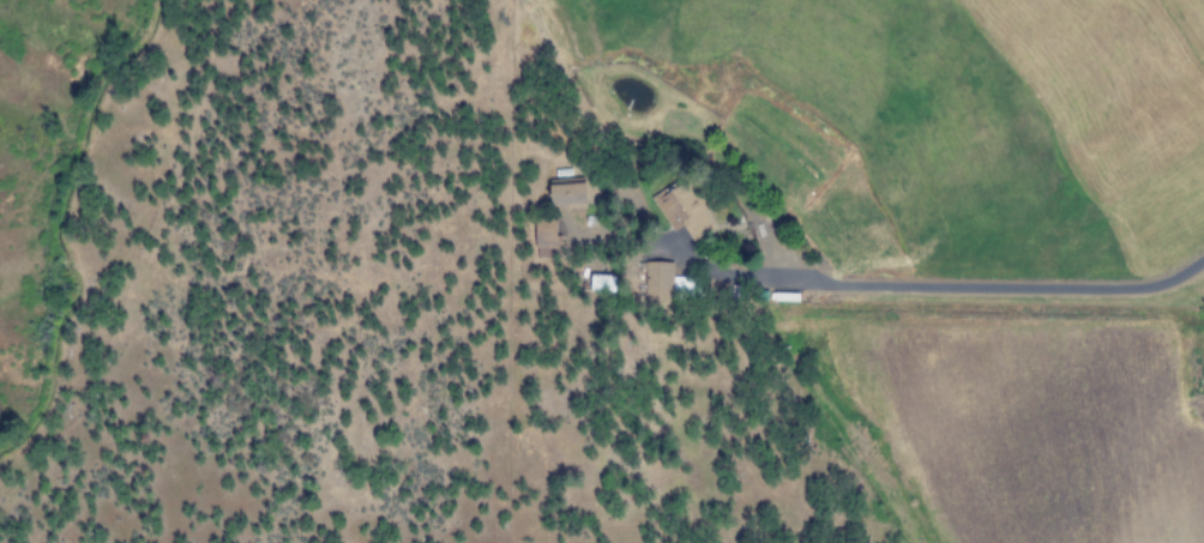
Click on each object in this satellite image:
building: (566, 195)
building: (681, 209)
building: (656, 278)
road: (976, 284)

